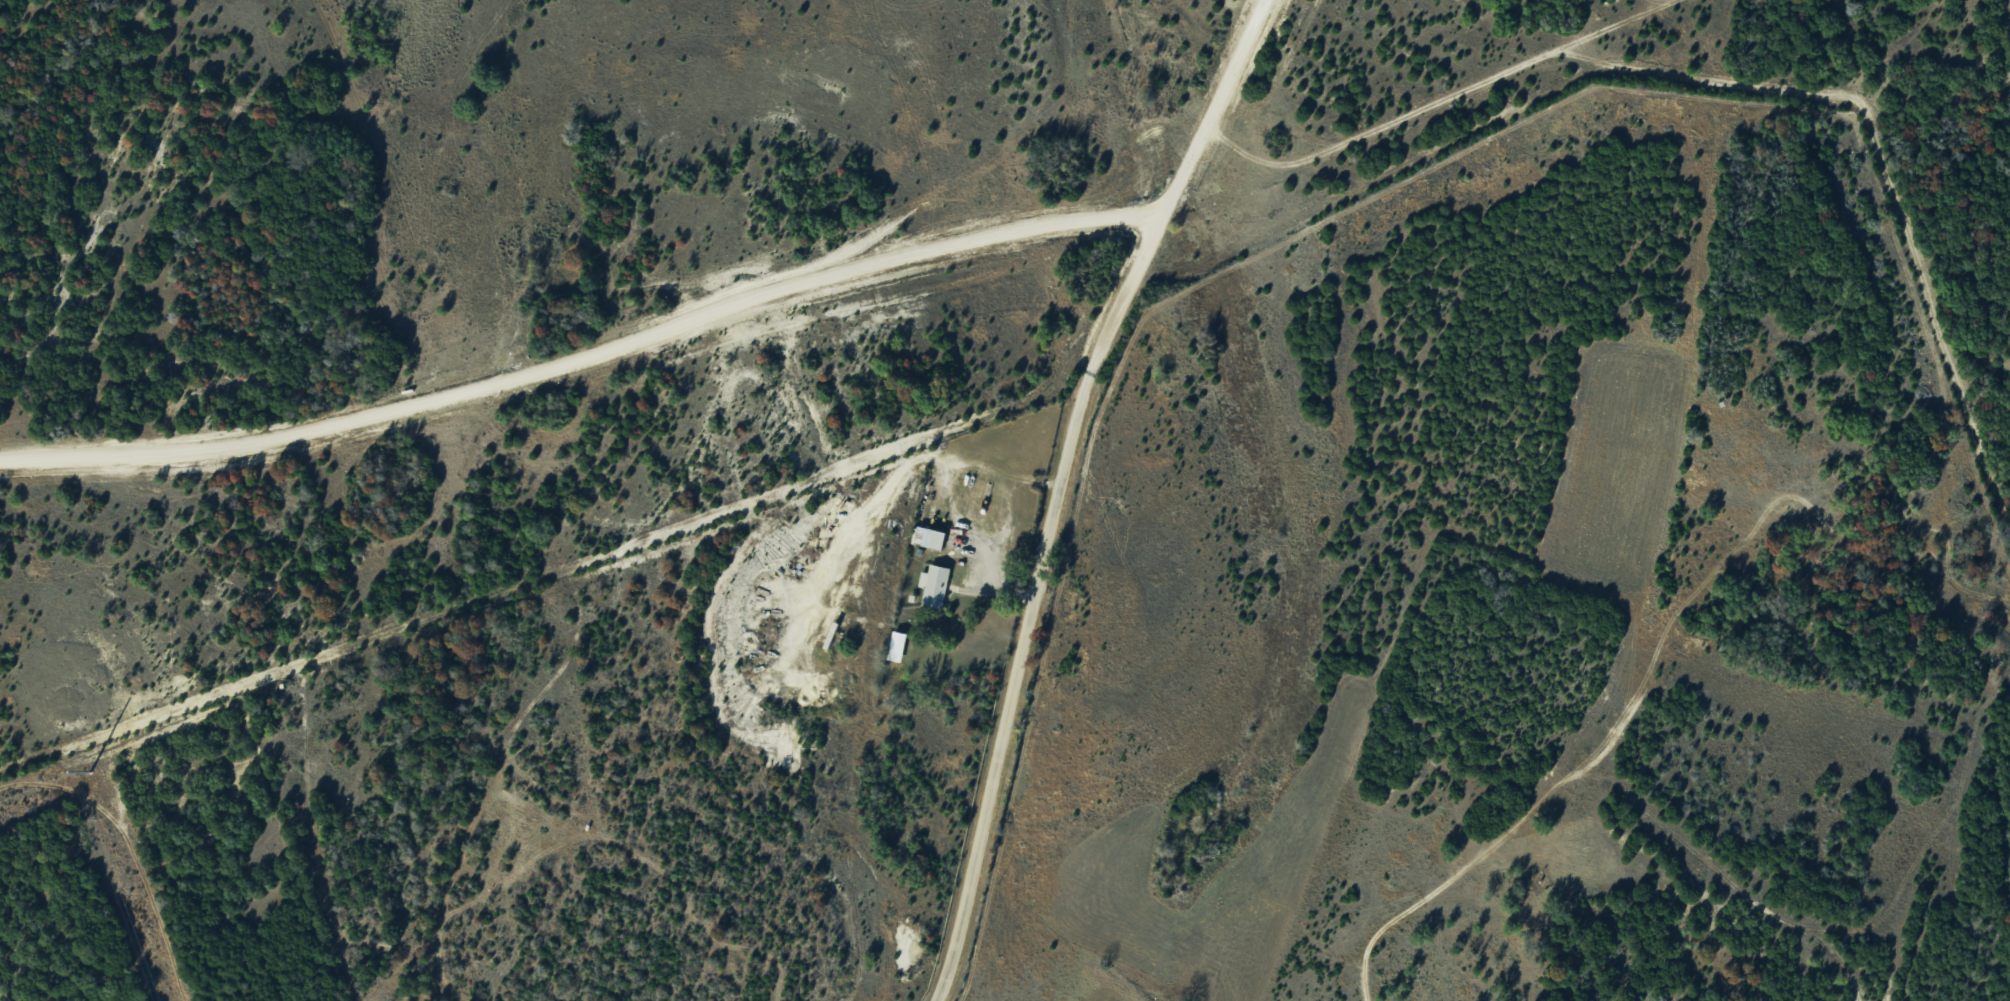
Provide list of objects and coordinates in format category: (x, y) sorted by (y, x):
road: (1175, 186)
road: (585, 357)
building: (930, 537)
building: (934, 586)
building: (898, 646)
road: (1011, 687)
power tower: (89, 771)

